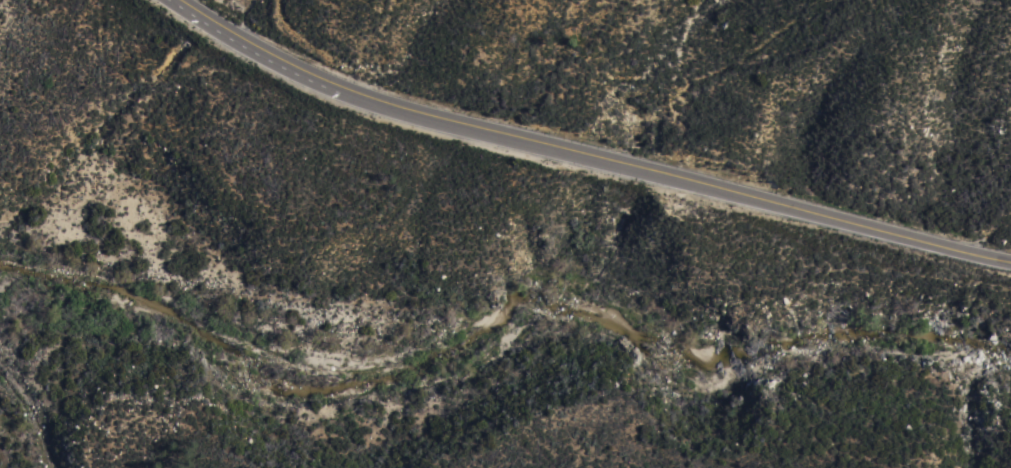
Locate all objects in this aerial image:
road: (586, 155)
river: (496, 344)

